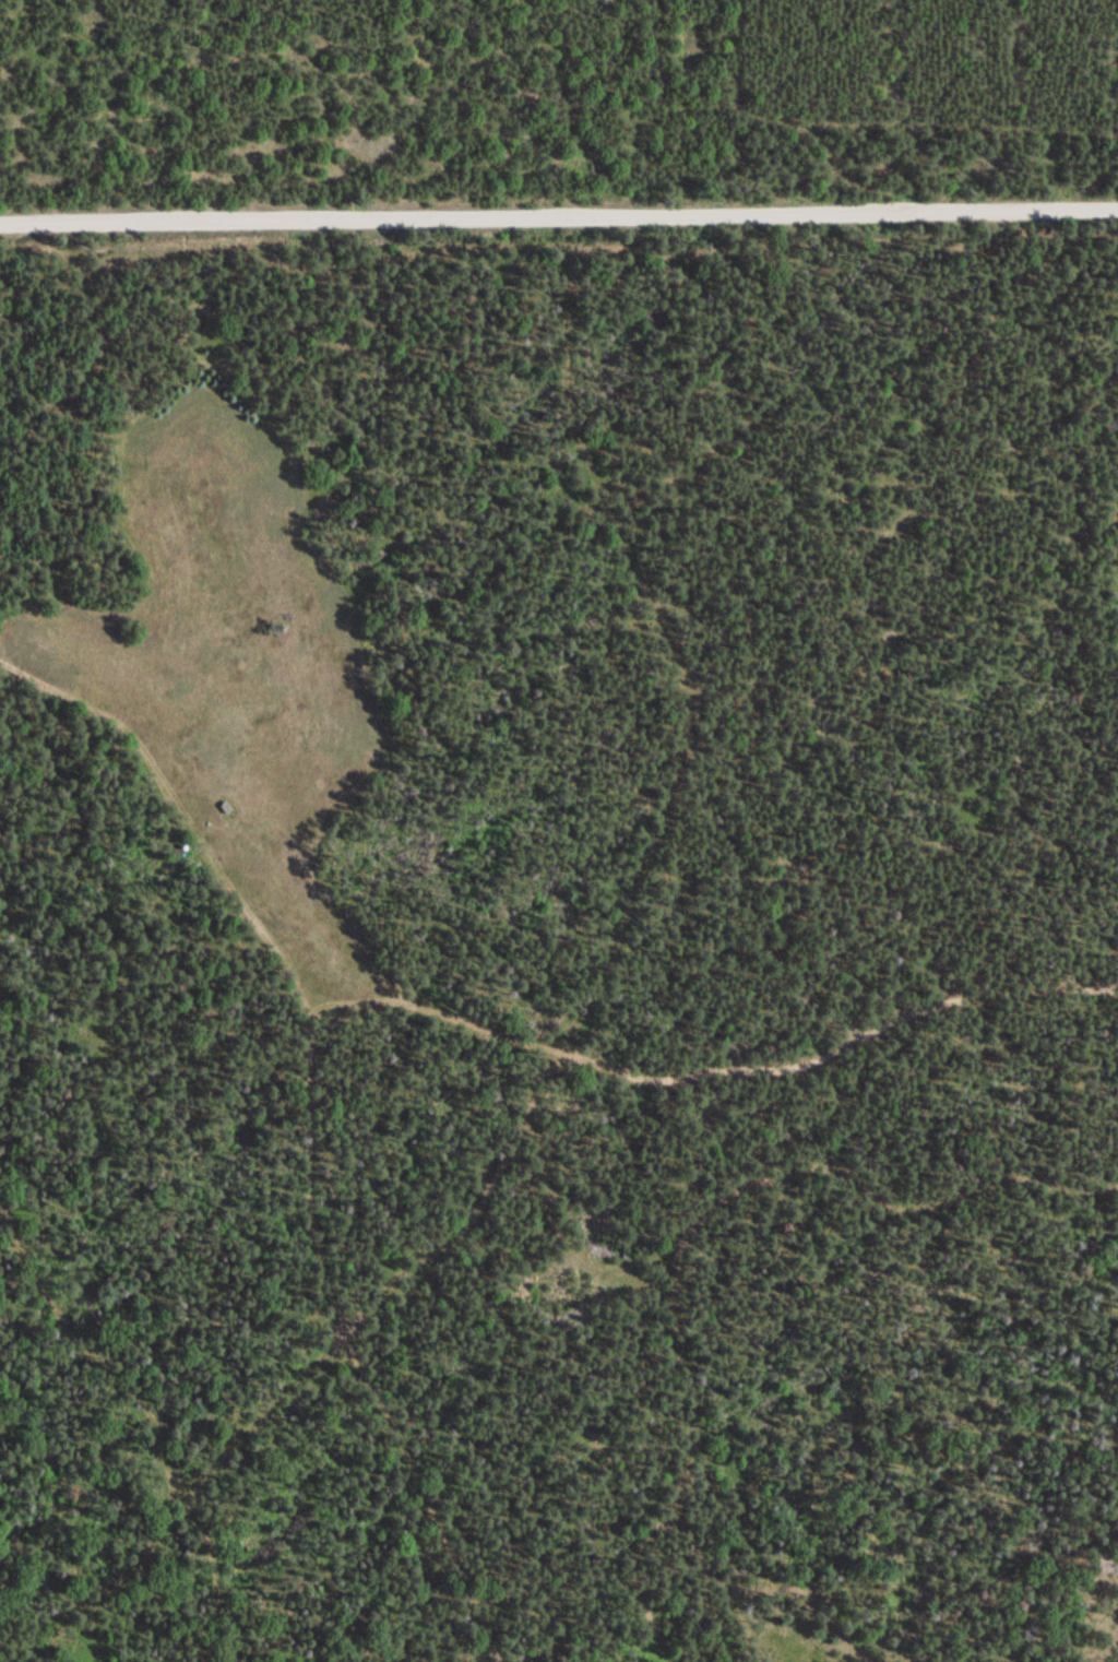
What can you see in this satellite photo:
road: (559, 218)
road: (715, 1071)
road: (321, 1116)
road: (477, 1208)

